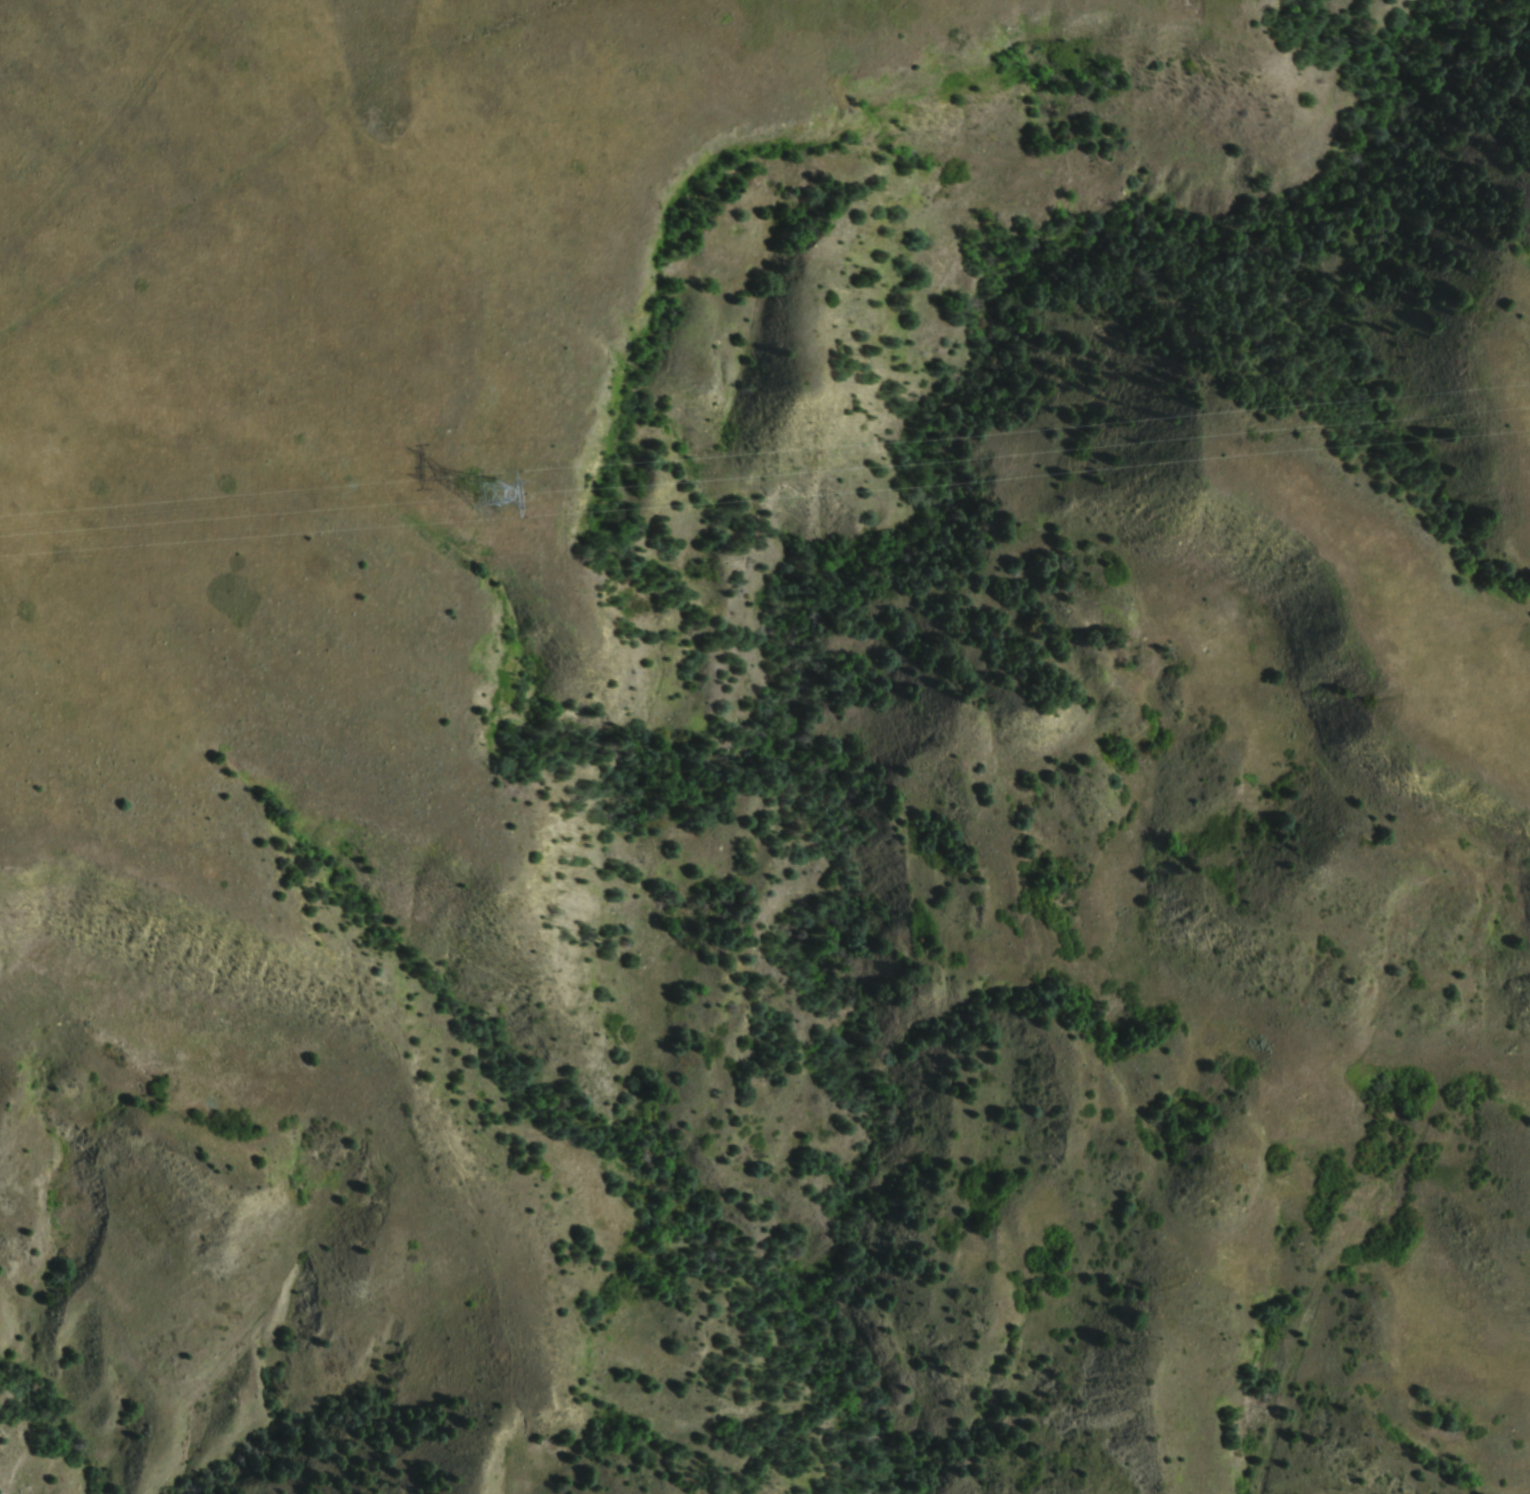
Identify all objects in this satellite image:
power tower: (481, 492)

